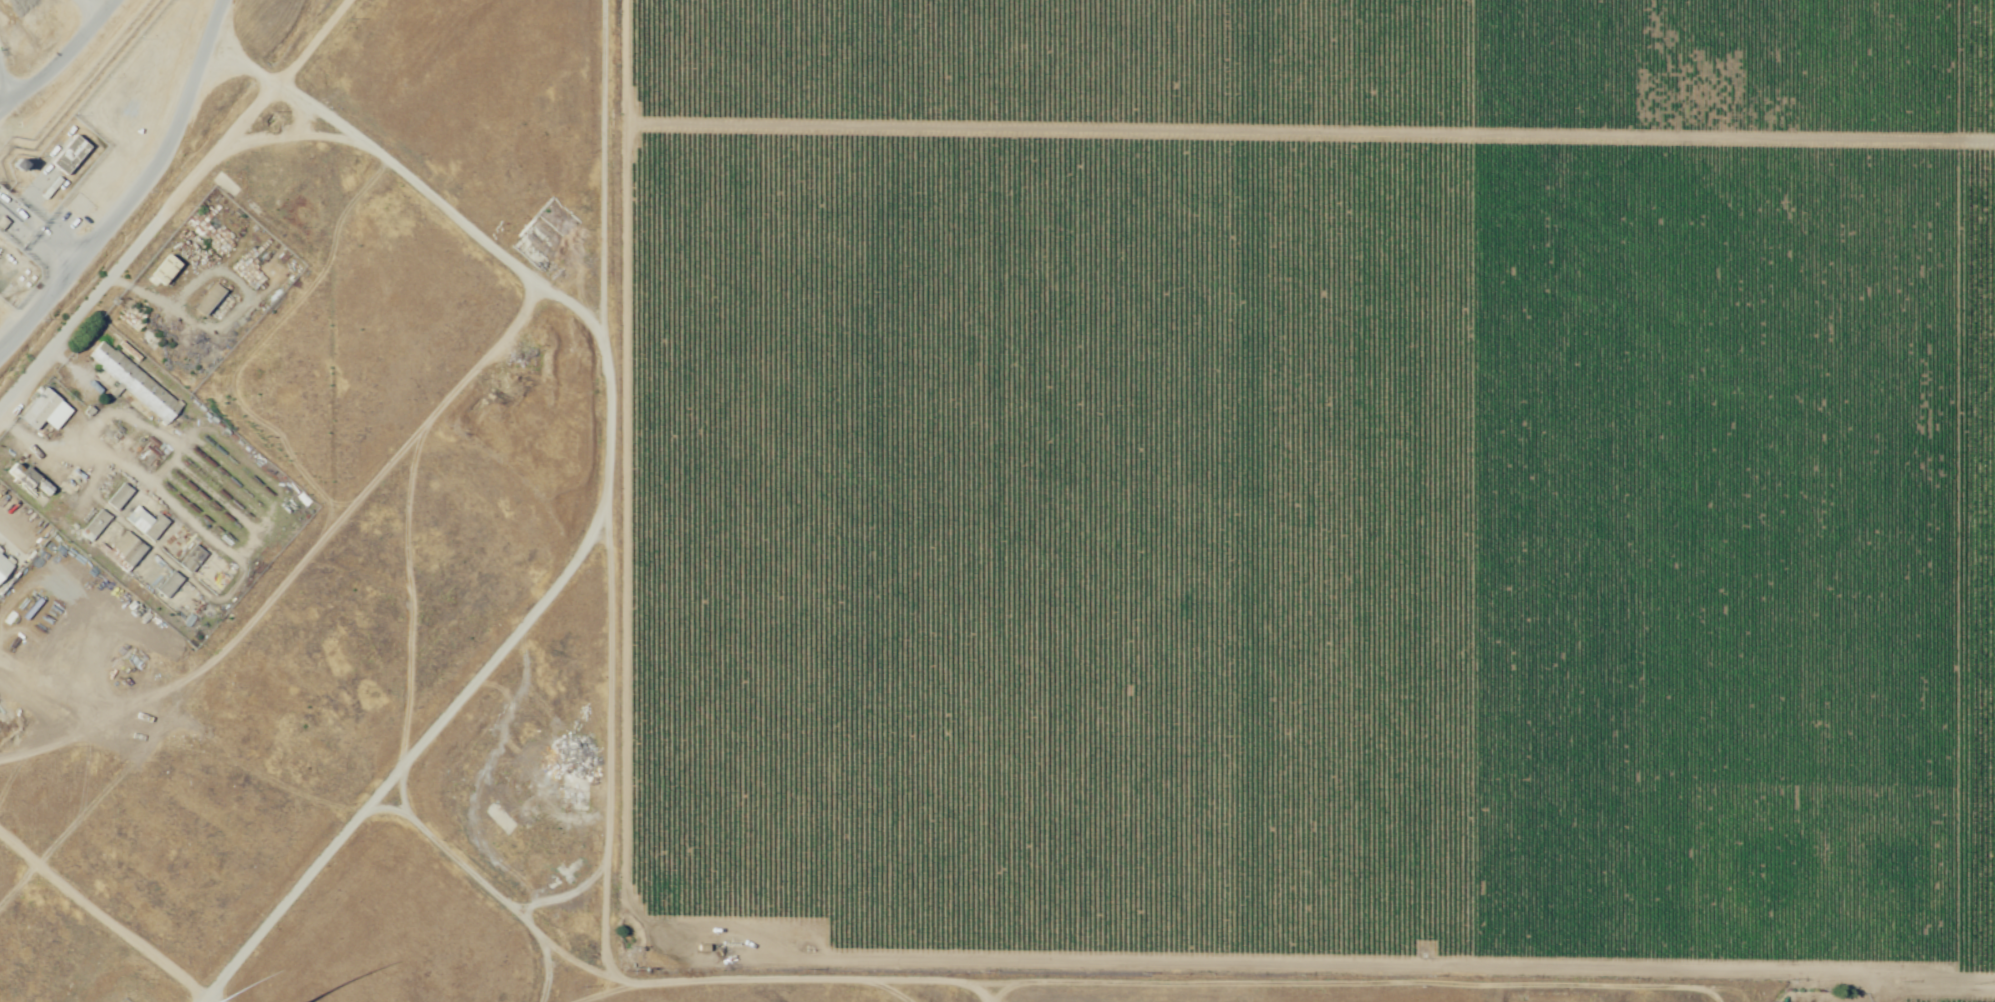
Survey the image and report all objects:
road: (1312, 130)
building: (69, 155)
building: (15, 166)
road: (135, 190)
building: (164, 271)
building: (215, 303)
building: (134, 382)
building: (44, 411)
building: (27, 478)
road: (605, 483)
crop: (1311, 487)
building: (146, 523)
building: (95, 525)
building: (128, 549)
building: (192, 559)
building: (4, 567)
building: (169, 585)
road: (403, 763)
building: (574, 793)
road: (849, 961)
road: (806, 979)
road: (1353, 984)
road: (1890, 992)

